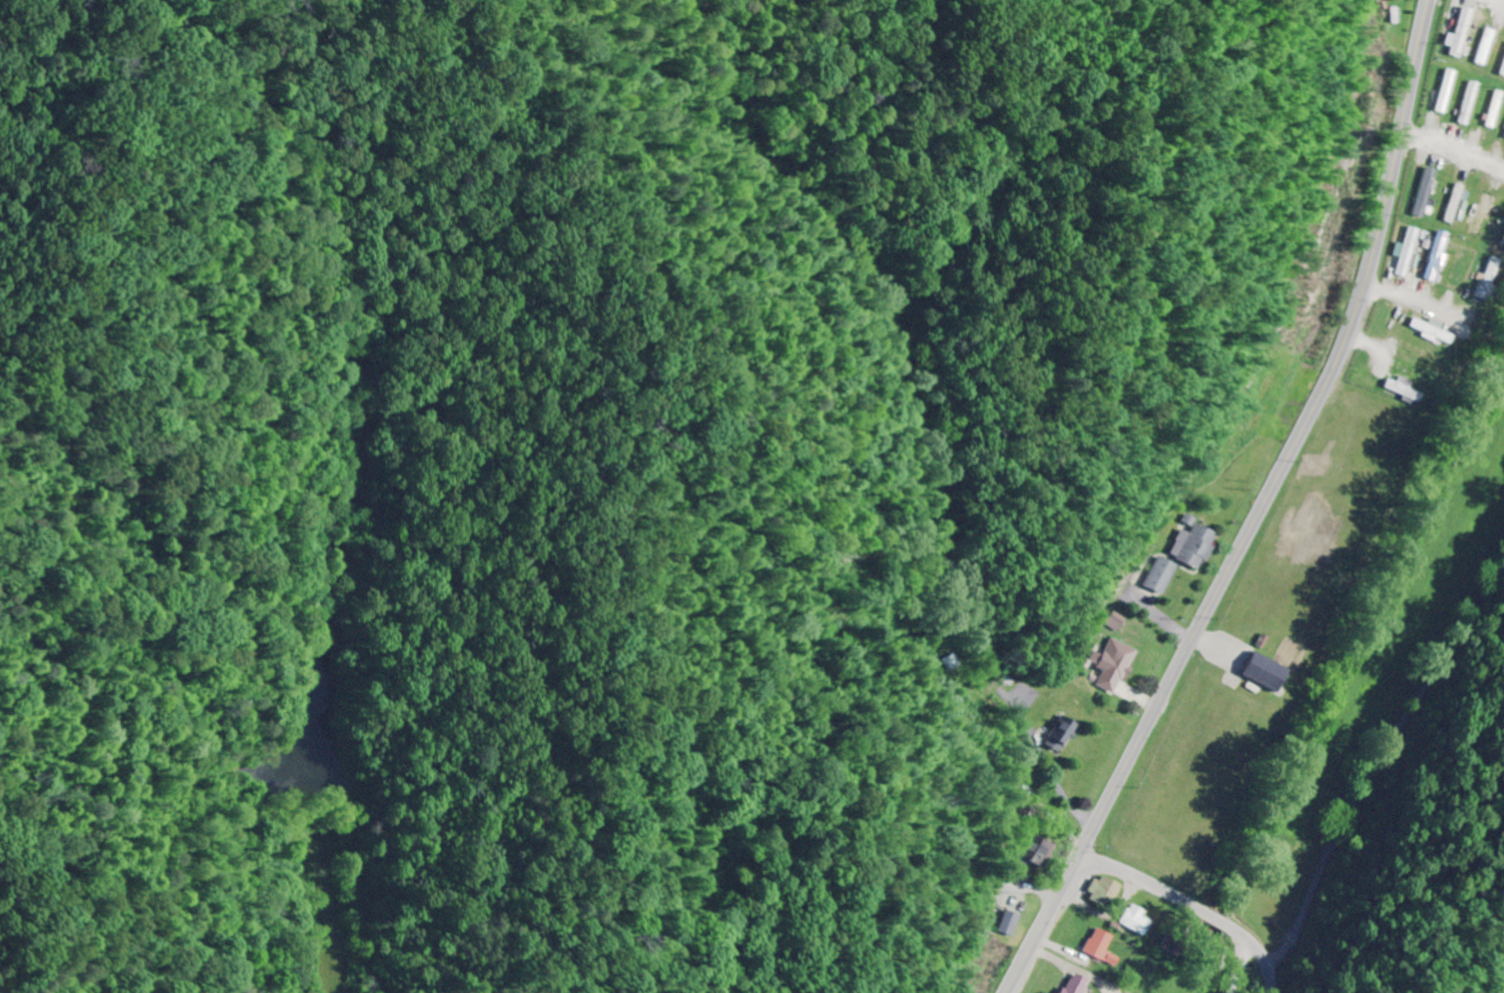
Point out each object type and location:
building: (1463, 34)
building: (1488, 46)
building: (1503, 73)
building: (1449, 90)
building: (1471, 102)
building: (1496, 109)
road: (1457, 147)
building: (1427, 192)
road: (1253, 208)
building: (1484, 214)
building: (1408, 251)
building: (1438, 254)
building: (1489, 278)
building: (1433, 330)
road: (1353, 338)
building: (1404, 388)
road: (794, 422)
building: (1197, 545)
building: (1165, 575)
building: (1121, 621)
building: (959, 662)
building: (1118, 664)
building: (1265, 671)
building: (1062, 734)
road: (1382, 772)
road: (1101, 820)
building: (1040, 851)
building: (1106, 891)
road: (1197, 906)
building: (1137, 920)
building: (1015, 923)
building: (1102, 947)
building: (1078, 984)

